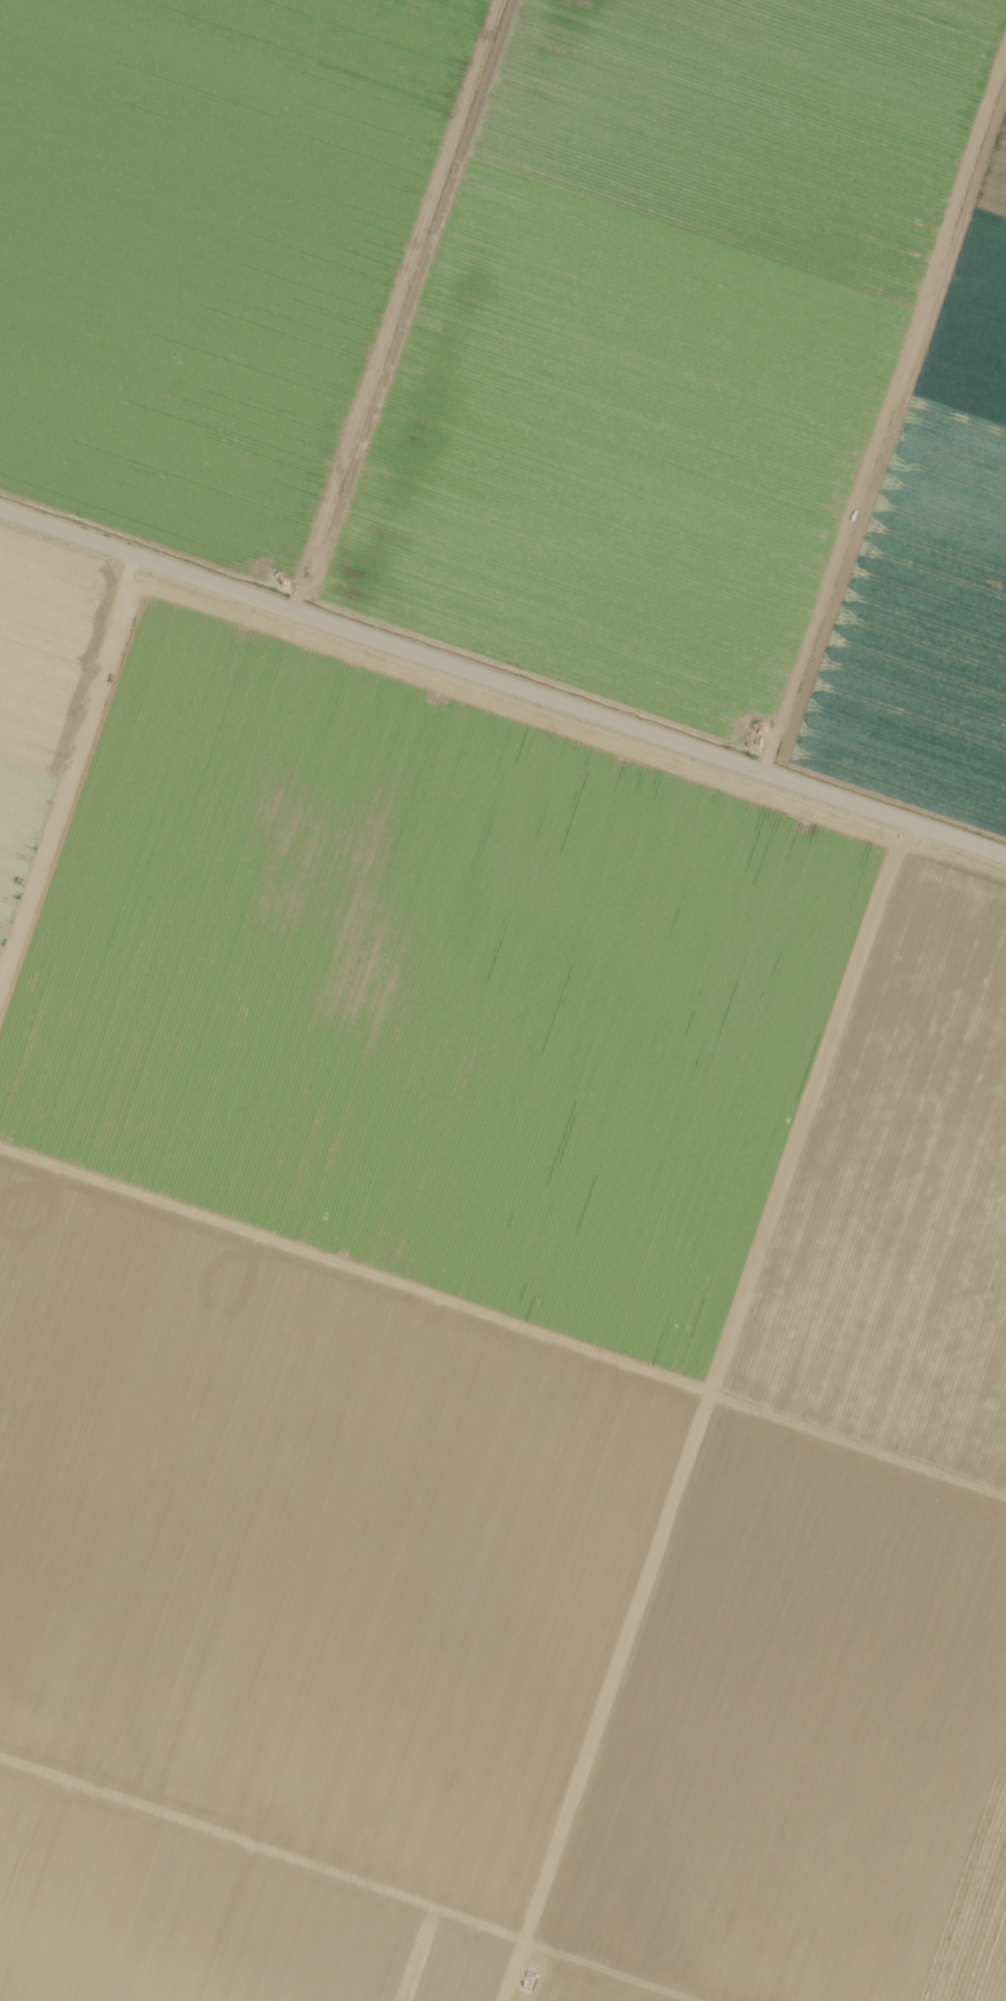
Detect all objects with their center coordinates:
crop: (207, 254)
crop: (662, 341)
crop: (929, 558)
crop: (41, 683)
road: (503, 688)
crop: (428, 989)
crop: (904, 1202)
crop: (309, 1549)
crop: (806, 1741)
crop: (203, 1918)
crop: (574, 1984)

